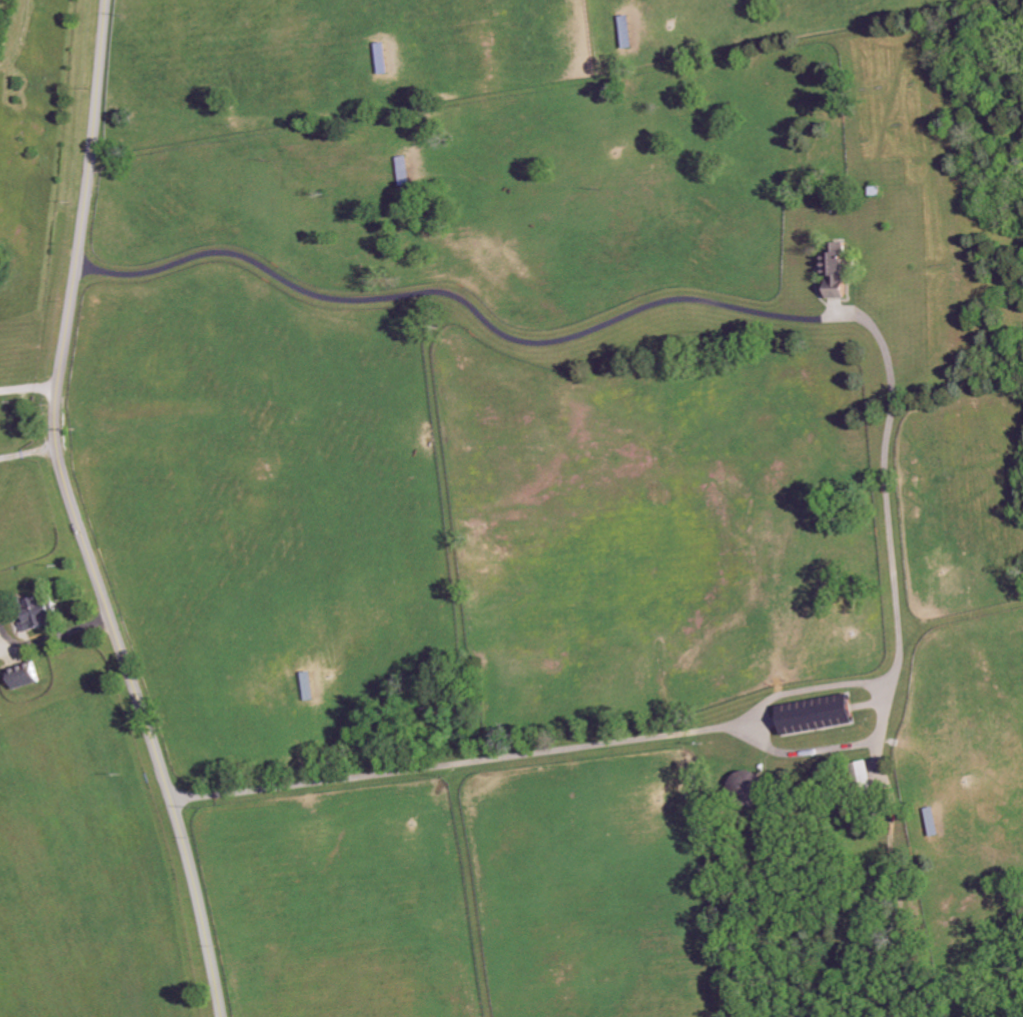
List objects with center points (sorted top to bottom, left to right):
building: (612, 32)
building: (394, 171)
building: (837, 272)
road: (30, 385)
road: (29, 451)
road: (888, 454)
road: (77, 516)
building: (39, 612)
road: (51, 635)
building: (26, 676)
building: (819, 714)
road: (836, 749)
building: (866, 772)
building: (749, 788)

